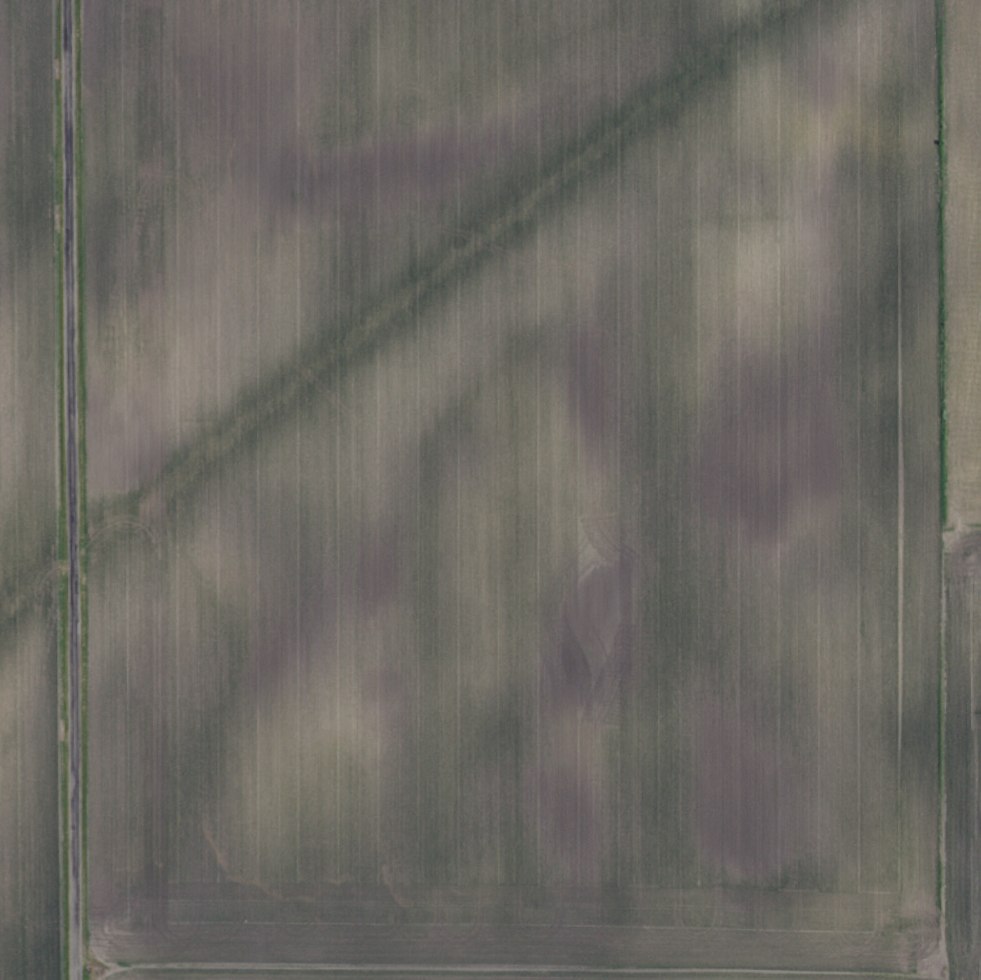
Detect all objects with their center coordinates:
road: (69, 489)
crop: (529, 489)
crop: (34, 498)

